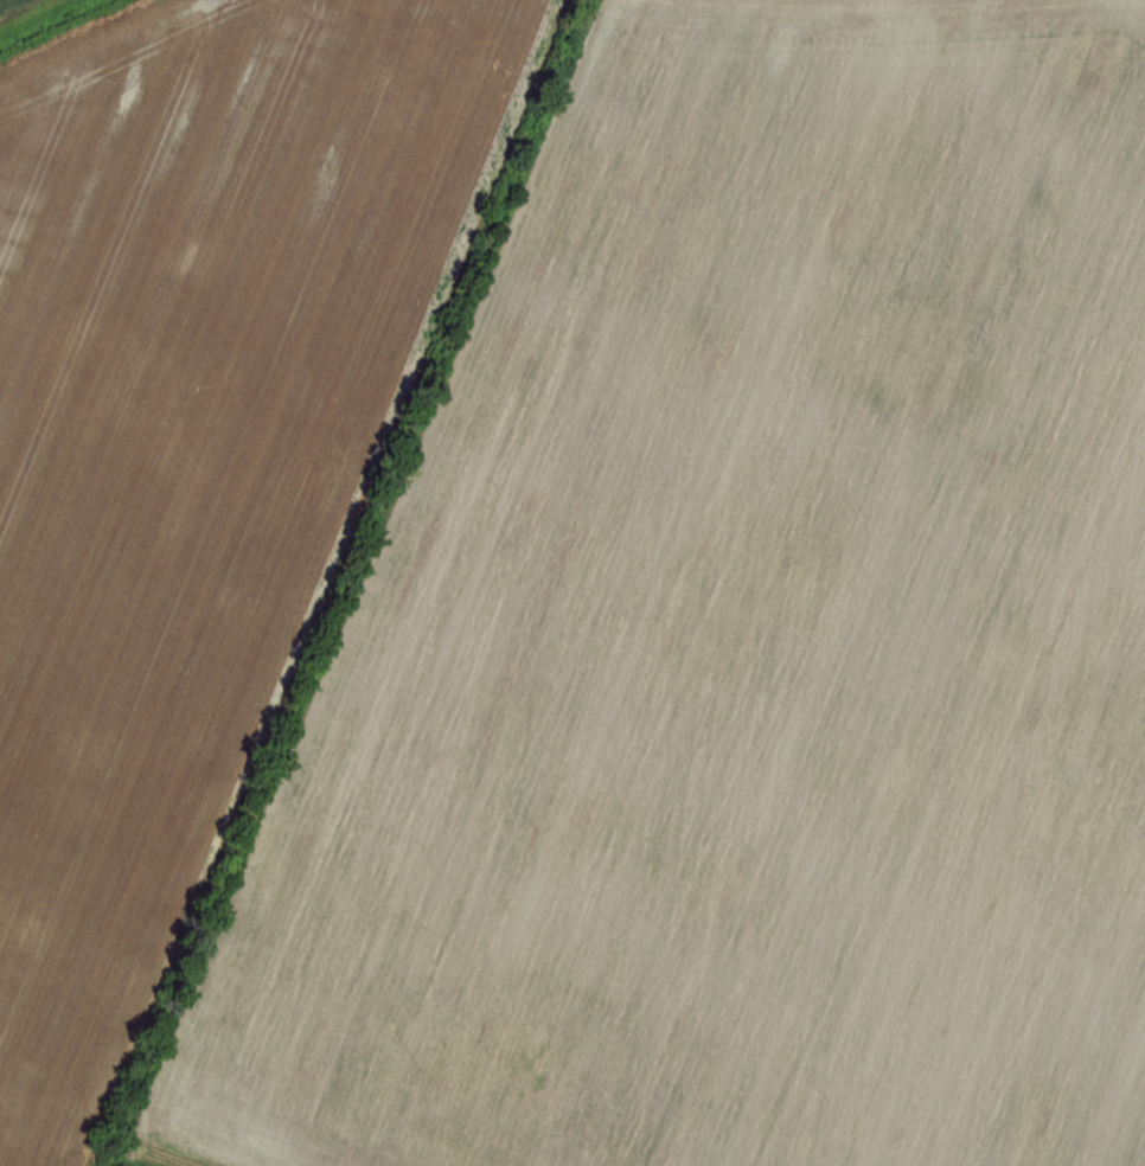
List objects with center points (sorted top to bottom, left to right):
crop: (738, 640)

